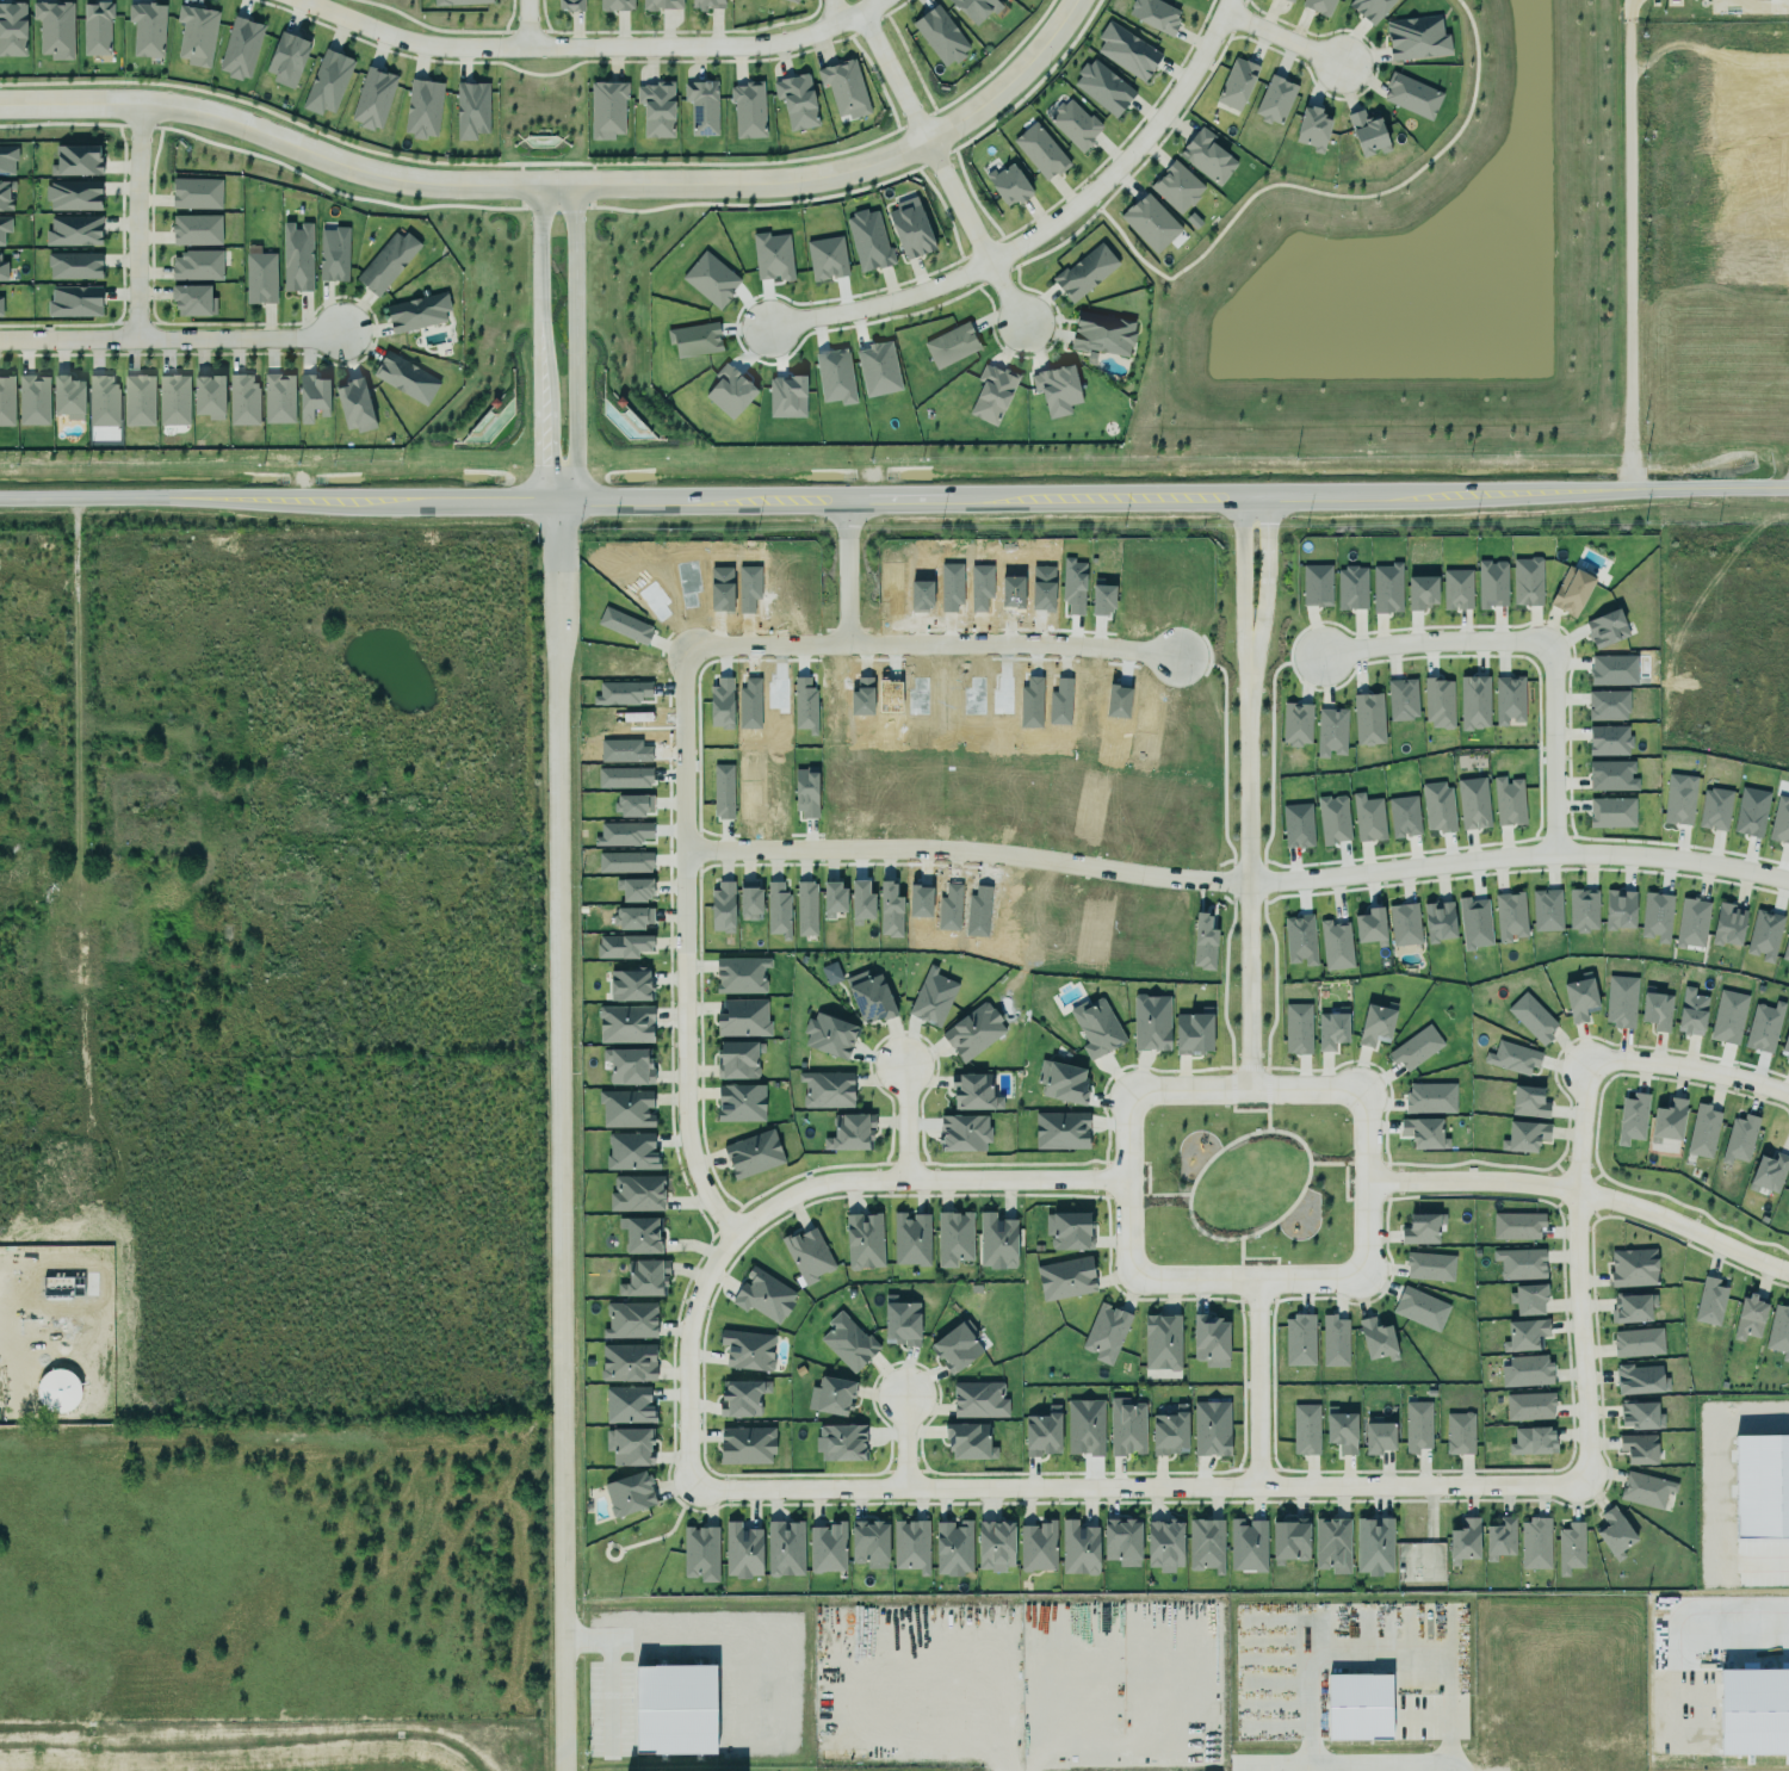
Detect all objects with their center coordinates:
building: (1287, 0)
building: (458, 1)
building: (788, 1)
building: (657, 4)
building: (702, 4)
building: (568, 5)
building: (612, 5)
building: (1319, 6)
building: (976, 8)
building: (1366, 8)
building: (1152, 14)
road: (527, 23)
building: (93, 27)
building: (11, 29)
building: (54, 29)
building: (147, 29)
building: (193, 33)
building: (939, 35)
building: (1413, 37)
road: (1281, 38)
road: (592, 45)
building: (237, 47)
building: (1127, 51)
building: (286, 56)
building: (324, 81)
building: (1234, 82)
building: (1102, 86)
building: (844, 88)
building: (1409, 95)
building: (373, 99)
building: (1273, 99)
building: (797, 101)
building: (699, 107)
building: (423, 109)
building: (469, 109)
building: (603, 109)
building: (657, 109)
building: (748, 111)
building: (1072, 124)
building: (1311, 128)
building: (1368, 134)
building: (1039, 149)
building: (1205, 156)
building: (6, 157)
building: (74, 160)
road: (940, 167)
road: (564, 182)
building: (1009, 185)
building: (1176, 187)
building: (196, 193)
building: (70, 194)
building: (6, 196)
road: (136, 219)
building: (4, 223)
building: (1150, 223)
road: (1046, 228)
building: (194, 229)
building: (910, 229)
building: (70, 230)
building: (867, 237)
road: (1628, 243)
building: (330, 254)
building: (295, 256)
building: (827, 258)
building: (384, 262)
building: (72, 264)
building: (194, 265)
building: (1, 271)
building: (1082, 272)
building: (258, 278)
building: (72, 299)
building: (190, 299)
building: (0, 306)
building: (415, 311)
building: (1100, 333)
road: (172, 339)
road: (539, 339)
building: (694, 339)
road: (575, 340)
building: (947, 345)
building: (403, 377)
building: (1057, 389)
building: (730, 391)
building: (989, 392)
building: (312, 395)
building: (206, 396)
building: (66, 397)
building: (240, 398)
building: (278, 398)
building: (5, 400)
building: (30, 400)
building: (136, 400)
building: (171, 400)
building: (354, 401)
building: (103, 402)
road: (893, 490)
road: (838, 569)
road: (1243, 572)
road: (1265, 574)
building: (1527, 581)
building: (1492, 583)
building: (1317, 586)
building: (1351, 588)
building: (1387, 588)
building: (1456, 589)
building: (1420, 592)
building: (1571, 592)
building: (1102, 600)
building: (625, 625)
building: (1607, 628)
road: (1432, 634)
road: (767, 645)
building: (1612, 670)
building: (620, 691)
road: (75, 695)
building: (1400, 698)
building: (1509, 699)
building: (1474, 702)
building: (722, 704)
building: (1438, 704)
building: (1608, 705)
building: (1368, 719)
building: (1296, 724)
building: (1331, 732)
road: (1550, 739)
building: (1608, 741)
building: (1612, 776)
building: (624, 778)
building: (723, 791)
building: (806, 792)
building: (1679, 800)
building: (1508, 801)
building: (1473, 803)
building: (633, 805)
building: (1437, 806)
building: (1714, 809)
building: (1611, 812)
building: (1751, 812)
building: (1404, 816)
building: (1366, 817)
building: (1332, 819)
building: (1779, 821)
building: (1296, 825)
building: (623, 834)
road: (1517, 849)
road: (962, 852)
building: (625, 862)
road: (1246, 872)
building: (634, 888)
building: (832, 898)
building: (749, 900)
building: (861, 902)
building: (804, 905)
building: (723, 908)
building: (775, 909)
building: (1620, 909)
building: (890, 910)
building: (1547, 910)
building: (1583, 910)
building: (1510, 916)
building: (1657, 916)
building: (632, 917)
building: (1438, 921)
building: (1474, 923)
building: (1691, 923)
building: (1404, 924)
building: (1728, 924)
building: (1369, 927)
building: (1764, 935)
building: (1300, 940)
building: (1203, 942)
building: (1336, 945)
building: (623, 946)
building: (1785, 949)
building: (738, 972)
building: (830, 973)
building: (629, 985)
building: (869, 997)
building: (933, 997)
building: (1579, 998)
building: (1621, 1001)
building: (1657, 1010)
building: (1691, 1013)
building: (1727, 1015)
building: (1533, 1017)
building: (743, 1018)
building: (1150, 1018)
building: (625, 1024)
building: (1375, 1024)
building: (1764, 1027)
building: (1096, 1028)
building: (973, 1029)
building: (1298, 1029)
building: (1332, 1029)
building: (1193, 1034)
building: (829, 1035)
building: (1785, 1045)
building: (1416, 1047)
building: (1512, 1058)
building: (738, 1059)
road: (1264, 1060)
road: (1228, 1061)
building: (629, 1066)
road: (1220, 1066)
road: (1246, 1066)
road: (1271, 1066)
road: (1690, 1067)
building: (1063, 1082)
road: (1264, 1085)
road: (1228, 1086)
building: (827, 1089)
road: (1246, 1090)
building: (974, 1092)
building: (1430, 1097)
building: (1529, 1102)
building: (741, 1103)
road: (682, 1104)
building: (625, 1106)
road: (1244, 1109)
road: (1265, 1115)
building: (1633, 1117)
building: (1667, 1121)
road: (900, 1122)
building: (849, 1127)
road: (559, 1131)
building: (1061, 1131)
building: (1703, 1131)
building: (964, 1133)
building: (1424, 1133)
road: (1294, 1137)
building: (1524, 1137)
building: (1739, 1139)
building: (631, 1151)
road: (885, 1152)
road: (922, 1153)
building: (753, 1154)
road: (1102, 1154)
road: (1123, 1162)
road: (1336, 1162)
road: (904, 1163)
road: (1014, 1163)
road: (806, 1170)
building: (1770, 1171)
road: (1145, 1174)
road: (1103, 1178)
road: (1367, 1182)
road: (1129, 1183)
park: (1244, 1183)
road: (1342, 1191)
road: (1585, 1191)
building: (637, 1194)
road: (793, 1194)
road: (1122, 1194)
road: (1163, 1194)
road: (1103, 1195)
road: (732, 1200)
building: (1788, 1205)
road: (724, 1221)
building: (1517, 1226)
building: (1422, 1228)
building: (1067, 1231)
road: (711, 1233)
building: (640, 1234)
building: (954, 1238)
building: (911, 1239)
building: (996, 1239)
building: (863, 1241)
road: (1238, 1251)
building: (809, 1255)
road: (1259, 1257)
building: (1521, 1263)
building: (1632, 1265)
building: (1430, 1267)
road: (1577, 1271)
road: (688, 1275)
building: (645, 1278)
building: (1066, 1278)
road: (1248, 1278)
road: (1238, 1280)
road: (1275, 1280)
building: (763, 1295)
building: (1528, 1295)
road: (1157, 1298)
road: (1255, 1300)
road: (1273, 1300)
building: (1710, 1301)
building: (1632, 1307)
building: (1420, 1308)
building: (1750, 1318)
building: (900, 1319)
building: (631, 1320)
building: (1778, 1331)
building: (1106, 1333)
building: (1524, 1335)
building: (1160, 1338)
road: (1240, 1338)
building: (847, 1339)
building: (1376, 1339)
building: (1211, 1340)
building: (1299, 1340)
building: (1335, 1340)
building: (1638, 1342)
building: (954, 1345)
building: (748, 1346)
building: (629, 1362)
building: (1527, 1370)
building: (1640, 1380)
road: (1257, 1382)
building: (830, 1392)
building: (741, 1393)
building: (977, 1398)
building: (1528, 1404)
building: (629, 1405)
building: (1640, 1416)
building: (1083, 1425)
building: (1125, 1425)
building: (1417, 1426)
building: (1212, 1429)
building: (1306, 1429)
building: (1341, 1430)
building: (1040, 1431)
building: (1170, 1432)
building: (1460, 1433)
building: (1379, 1436)
building: (745, 1441)
building: (1533, 1441)
road: (905, 1442)
building: (970, 1442)
building: (841, 1443)
building: (630, 1447)
building: (1639, 1448)
road: (1139, 1487)
building: (1646, 1490)
building: (630, 1494)
building: (1614, 1534)
building: (1498, 1536)
building: (868, 1540)
building: (1289, 1540)
building: (1122, 1541)
building: (1205, 1541)
building: (1465, 1541)
building: (1164, 1542)
building: (1535, 1543)
building: (1332, 1544)
building: (911, 1546)
building: (996, 1546)
building: (1248, 1546)
building: (1374, 1546)
building: (741, 1547)
building: (1038, 1547)
building: (785, 1548)
building: (827, 1548)
building: (953, 1548)
building: (1078, 1548)
building: (1571, 1548)
building: (700, 1553)
road: (1366, 1631)
road: (1752, 1642)
road: (605, 1673)
road: (951, 1688)
building: (1358, 1707)
building: (675, 1709)
building: (1753, 1711)
road: (1339, 1764)
building: (683, 1767)

